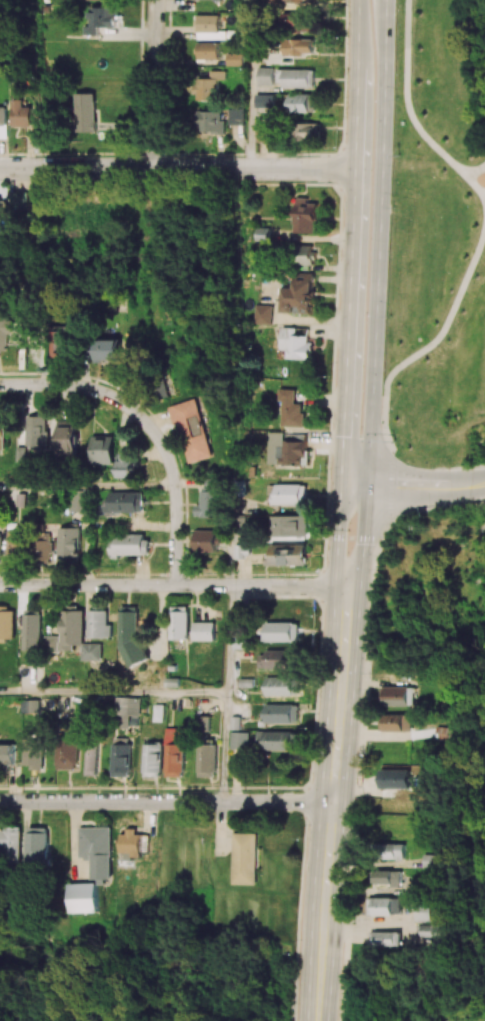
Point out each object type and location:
building: (296, 1)
building: (101, 19)
building: (296, 20)
building: (208, 23)
building: (299, 46)
building: (208, 50)
building: (235, 59)
building: (265, 76)
building: (297, 78)
road: (156, 84)
road: (250, 84)
building: (209, 86)
building: (265, 100)
road: (409, 100)
building: (304, 103)
building: (85, 112)
building: (23, 113)
building: (3, 116)
building: (236, 116)
building: (212, 122)
building: (311, 131)
building: (266, 133)
road: (177, 169)
road: (479, 172)
road: (479, 182)
building: (19, 200)
building: (0, 206)
building: (306, 216)
building: (305, 255)
building: (300, 294)
building: (262, 314)
road: (348, 317)
road: (376, 318)
building: (6, 333)
building: (296, 343)
building: (59, 345)
road: (427, 349)
building: (104, 350)
road: (73, 386)
building: (290, 409)
building: (193, 429)
building: (3, 432)
building: (38, 432)
building: (69, 435)
building: (105, 449)
building: (292, 450)
building: (128, 465)
traffic signals: (340, 485)
road: (479, 485)
traffic signals: (366, 486)
road: (87, 487)
road: (406, 487)
road: (392, 490)
building: (288, 494)
road: (175, 496)
building: (77, 500)
building: (125, 502)
road: (478, 504)
building: (209, 505)
road: (428, 510)
building: (286, 526)
road: (387, 535)
road: (353, 539)
building: (208, 541)
building: (16, 543)
building: (69, 543)
building: (130, 544)
building: (43, 548)
building: (0, 549)
building: (242, 551)
building: (287, 555)
road: (180, 586)
building: (180, 623)
building: (7, 624)
building: (100, 624)
building: (33, 629)
building: (204, 631)
building: (281, 632)
building: (131, 635)
building: (74, 637)
building: (277, 659)
building: (282, 686)
road: (114, 693)
road: (228, 694)
building: (397, 696)
building: (32, 706)
building: (127, 712)
building: (159, 713)
building: (281, 713)
building: (397, 722)
building: (204, 724)
building: (447, 733)
building: (240, 740)
building: (277, 740)
road: (361, 749)
building: (174, 752)
building: (66, 753)
building: (7, 754)
building: (34, 754)
building: (91, 757)
building: (120, 757)
building: (152, 760)
building: (207, 760)
building: (395, 779)
road: (332, 794)
road: (166, 803)
building: (11, 843)
building: (38, 844)
building: (132, 845)
building: (97, 851)
building: (391, 851)
building: (245, 859)
building: (389, 878)
building: (83, 898)
building: (387, 906)
building: (425, 911)
building: (431, 931)
building: (386, 938)
road: (321, 988)
road: (346, 991)

